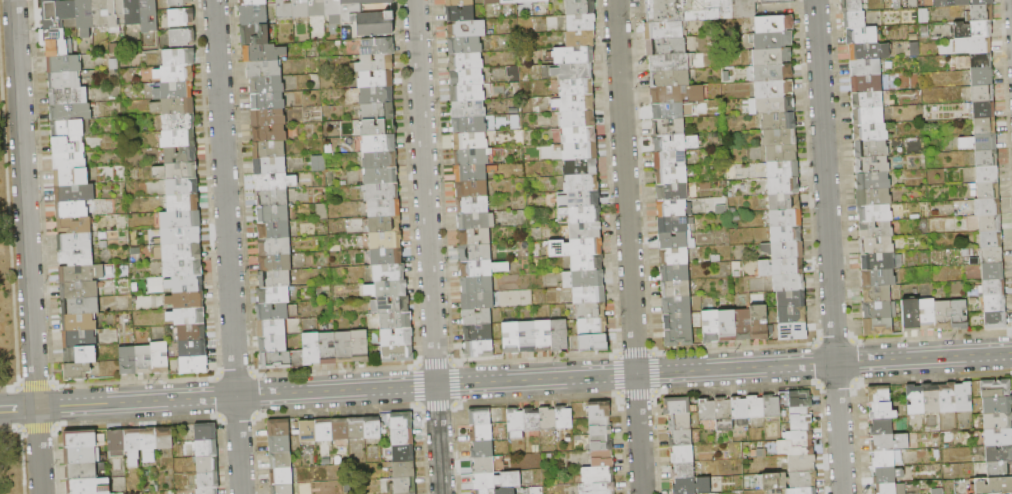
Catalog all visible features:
building: (508, 1)
building: (539, 1)
building: (253, 2)
building: (366, 2)
building: (492, 2)
building: (523, 2)
building: (777, 2)
building: (983, 2)
building: (180, 3)
building: (459, 3)
building: (851, 6)
building: (580, 7)
building: (300, 8)
building: (317, 8)
building: (284, 9)
building: (730, 9)
building: (333, 11)
building: (675, 11)
building: (132, 12)
building: (57, 13)
building: (100, 13)
building: (460, 13)
building: (982, 13)
building: (116, 15)
building: (254, 15)
building: (149, 16)
building: (84, 17)
building: (181, 17)
building: (370, 19)
building: (855, 20)
building: (580, 23)
building: (775, 24)
building: (466, 29)
building: (973, 29)
building: (664, 31)
building: (255, 35)
building: (861, 36)
building: (182, 37)
building: (580, 38)
building: (771, 40)
building: (56, 43)
building: (464, 45)
building: (980, 45)
building: (377, 47)
building: (666, 47)
building: (867, 51)
building: (265, 53)
building: (573, 55)
building: (772, 56)
building: (179, 57)
building: (465, 61)
building: (981, 61)
building: (669, 62)
building: (64, 64)
building: (374, 64)
building: (865, 68)
building: (264, 69)
building: (569, 71)
building: (773, 73)
building: (175, 74)
building: (466, 77)
building: (982, 78)
building: (376, 79)
building: (670, 79)
building: (64, 80)
building: (866, 84)
building: (266, 85)
building: (576, 87)
building: (774, 89)
building: (174, 90)
building: (467, 93)
building: (679, 94)
building: (982, 94)
building: (68, 96)
building: (370, 96)
building: (267, 101)
building: (867, 101)
building: (575, 103)
building: (775, 105)
building: (174, 106)
building: (468, 109)
building: (984, 109)
building: (667, 111)
building: (71, 112)
building: (377, 112)
building: (867, 117)
building: (268, 118)
building: (577, 119)
building: (178, 122)
building: (778, 122)
building: (469, 125)
building: (985, 126)
building: (668, 127)
building: (69, 128)
building: (377, 128)
building: (870, 133)
building: (269, 134)
building: (578, 135)
building: (779, 138)
building: (178, 139)
building: (470, 141)
building: (979, 142)
building: (675, 143)
building: (379, 144)
building: (68, 145)
building: (871, 149)
building: (269, 150)
building: (579, 151)
building: (781, 154)
building: (181, 155)
building: (471, 157)
building: (987, 158)
building: (380, 160)
building: (670, 160)
building: (70, 161)
building: (872, 165)
building: (269, 166)
building: (580, 167)
building: (783, 169)
building: (176, 171)
building: (471, 173)
building: (987, 174)
building: (672, 175)
building: (380, 176)
building: (71, 177)
building: (873, 181)
building: (274, 182)
building: (581, 183)
building: (182, 186)
building: (783, 186)
building: (471, 189)
building: (988, 190)
building: (673, 191)
building: (381, 192)
building: (75, 193)
building: (873, 197)
building: (271, 198)
building: (579, 199)
building: (784, 202)
building: (183, 203)
building: (472, 204)
building: (988, 207)
building: (384, 208)
building: (673, 208)
building: (71, 209)
building: (880, 213)
building: (272, 214)
building: (579, 215)
building: (786, 218)
building: (180, 220)
building: (476, 220)
building: (991, 223)
building: (383, 224)
building: (674, 224)
building: (75, 226)
building: (273, 230)
building: (876, 230)
building: (583, 231)
building: (786, 234)
building: (181, 236)
building: (474, 236)
building: (991, 239)
building: (386, 240)
building: (676, 241)
building: (74, 242)
road: (227, 246)
building: (274, 246)
road: (628, 246)
building: (876, 246)
road: (27, 247)
road: (427, 247)
building: (576, 247)
road: (828, 247)
building: (784, 250)
building: (182, 252)
building: (474, 252)
building: (992, 255)
building: (674, 256)
building: (76, 257)
building: (386, 257)
building: (881, 261)
building: (587, 262)
building: (275, 263)
building: (781, 267)
building: (183, 268)
building: (481, 268)
building: (993, 271)
building: (389, 272)
building: (80, 273)
building: (675, 273)
building: (879, 278)
building: (274, 279)
building: (583, 279)
building: (789, 283)
building: (185, 284)
building: (476, 284)
park: (14, 288)
building: (994, 288)
building: (387, 289)
building: (676, 289)
building: (79, 290)
building: (876, 294)
building: (273, 295)
building: (589, 295)
building: (791, 299)
building: (186, 300)
building: (478, 301)
building: (995, 304)
building: (391, 305)
building: (678, 305)
building: (80, 306)
building: (591, 310)
building: (877, 310)
building: (276, 311)
building: (959, 314)
building: (791, 315)
building: (926, 315)
building: (943, 315)
building: (187, 316)
building: (910, 316)
building: (477, 317)
building: (995, 320)
building: (396, 321)
building: (678, 321)
building: (79, 322)
building: (759, 322)
building: (743, 325)
building: (592, 326)
building: (711, 326)
building: (727, 326)
building: (877, 326)
building: (271, 327)
building: (793, 331)
building: (190, 333)
building: (478, 333)
building: (559, 335)
building: (542, 336)
building: (397, 337)
building: (527, 337)
building: (511, 338)
building: (679, 338)
building: (80, 339)
building: (593, 342)
building: (272, 344)
building: (359, 346)
building: (343, 347)
building: (193, 349)
building: (311, 349)
building: (327, 349)
building: (479, 350)
building: (398, 354)
building: (80, 355)
building: (160, 358)
building: (144, 360)
building: (282, 360)
building: (128, 361)
building: (194, 365)
building: (77, 372)
road: (505, 381)
building: (996, 388)
building: (799, 394)
building: (879, 394)
building: (963, 397)
building: (947, 398)
building: (915, 399)
building: (931, 399)
building: (997, 405)
building: (677, 406)
building: (772, 406)
building: (800, 406)
building: (755, 407)
building: (599, 410)
building: (707, 410)
building: (740, 411)
building: (883, 411)
building: (724, 415)
building: (479, 417)
building: (563, 418)
building: (547, 419)
building: (401, 421)
building: (531, 421)
building: (998, 421)
building: (680, 422)
building: (801, 422)
building: (515, 424)
building: (600, 426)
building: (882, 427)
building: (279, 428)
building: (373, 428)
building: (356, 429)
building: (323, 430)
building: (340, 430)
building: (308, 431)
building: (206, 432)
building: (481, 433)
building: (799, 435)
building: (402, 437)
building: (998, 437)
building: (164, 438)
building: (680, 438)
building: (82, 439)
building: (601, 442)
building: (116, 443)
building: (891, 443)
building: (280, 444)
building: (148, 445)
building: (133, 446)
building: (796, 447)
building: (206, 448)
building: (482, 450)
building: (403, 453)
building: (999, 453)
building: (82, 455)
building: (682, 455)
building: (602, 458)
building: (887, 459)
building: (281, 460)
building: (802, 463)
building: (207, 465)
building: (483, 466)
building: (404, 469)
building: (999, 469)
building: (683, 471)
building: (81, 472)
building: (598, 475)
building: (885, 475)
building: (281, 476)
building: (789, 480)
building: (208, 481)
building: (497, 481)
building: (89, 486)
building: (404, 486)
building: (692, 486)
building: (994, 486)
building: (597, 488)
building: (282, 489)
building: (889, 489)
building: (207, 491)
building: (486, 491)
building: (801, 491)

